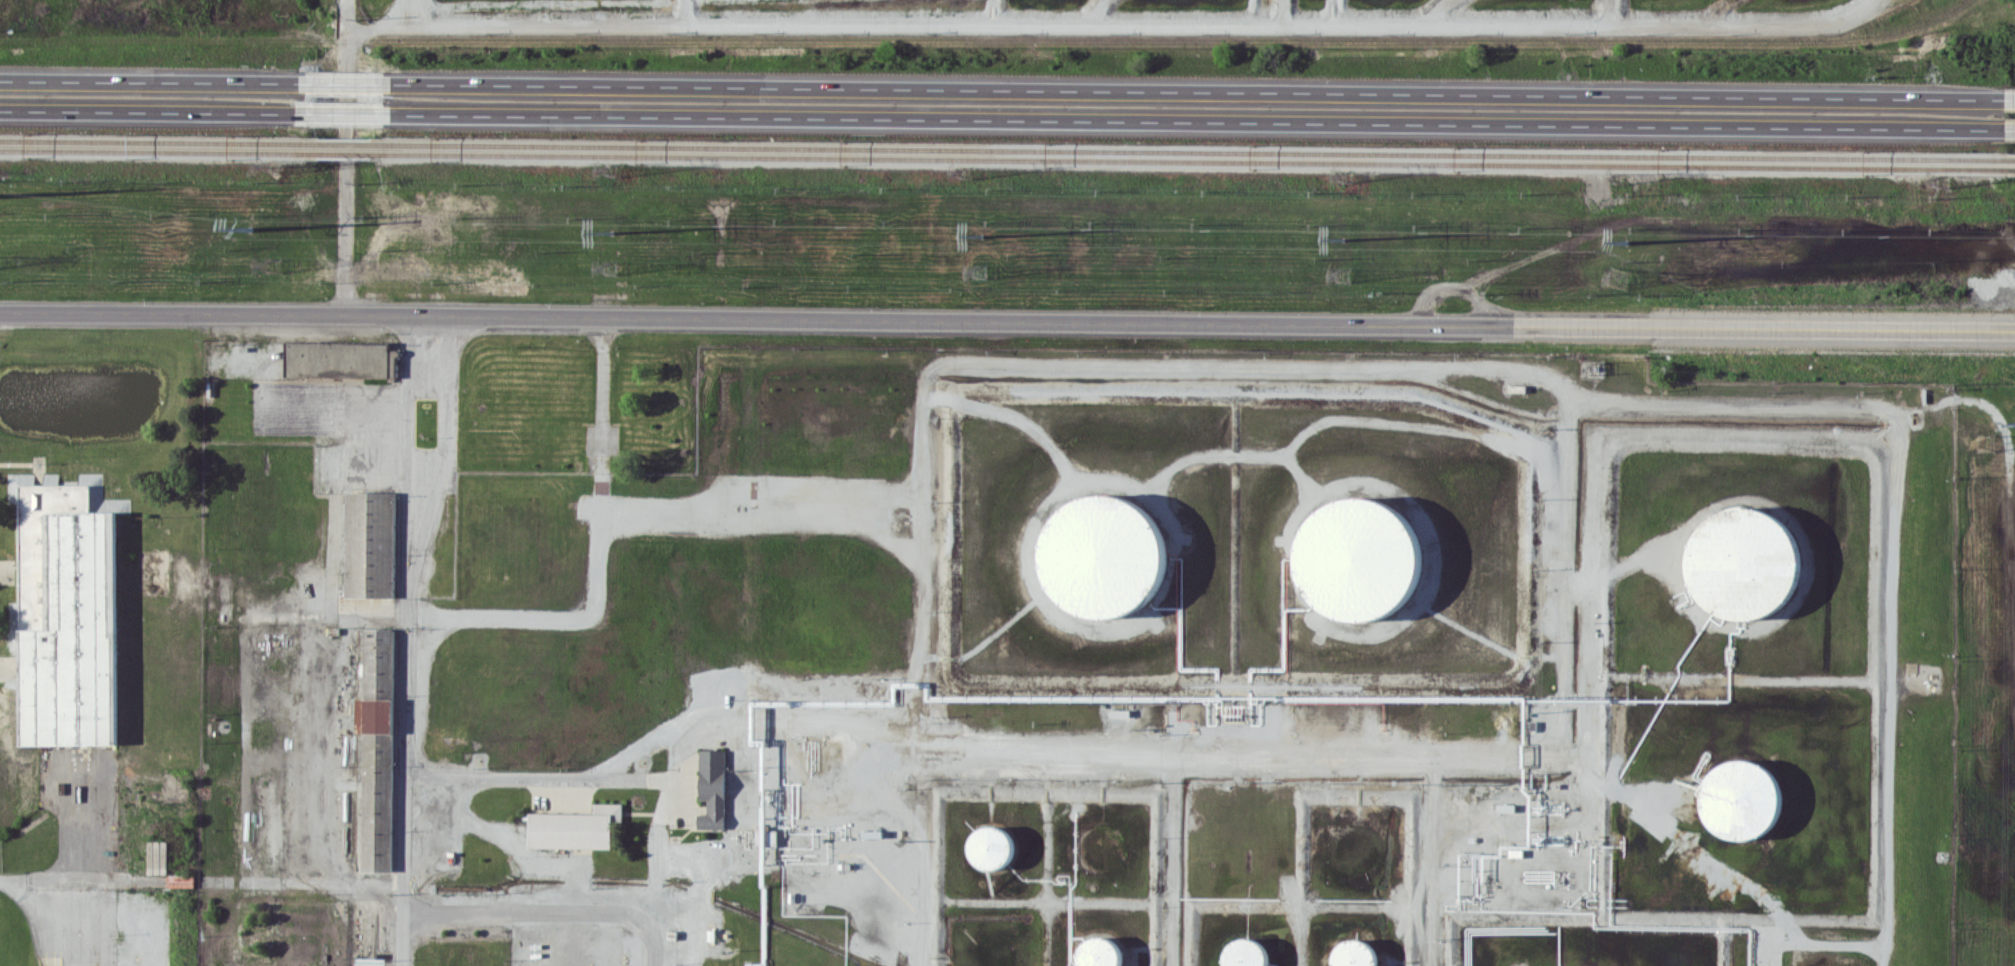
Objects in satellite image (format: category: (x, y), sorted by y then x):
road: (1250, 9)
road: (1003, 10)
road: (688, 11)
road: (1343, 11)
road: (406, 12)
road: (1602, 13)
road: (1126, 20)
road: (1297, 20)
road: (674, 23)
road: (1473, 24)
road: (1736, 25)
road: (151, 80)
road: (344, 82)
road: (346, 85)
road: (1195, 90)
road: (2010, 97)
road: (151, 110)
road: (343, 112)
road: (1195, 120)
road: (2010, 128)
railway: (157, 143)
railway: (347, 145)
railway: (158, 152)
railway: (350, 154)
railway: (1193, 156)
railway: (1195, 166)
railway: (2010, 167)
railway: (2011, 176)
power tower: (610, 230)
power tower: (250, 231)
power tower: (980, 234)
power tower: (1342, 237)
power tower: (1625, 240)
road: (344, 242)
power tower: (273, 267)
power tower: (611, 271)
power tower: (982, 272)
power tower: (1345, 274)
power tower: (1619, 277)
road: (1007, 320)
building: (335, 353)
road: (1547, 381)
building: (424, 424)
power tower: (1985, 439)
road: (767, 511)
road: (896, 540)
building: (368, 542)
building: (1101, 556)
building: (1355, 558)
road: (597, 563)
building: (1738, 563)
road: (1623, 566)
building: (13, 616)
building: (67, 617)
road: (864, 734)
road: (1304, 747)
building: (373, 750)
road: (731, 751)
road: (1618, 784)
building: (711, 787)
building: (1737, 797)
road: (403, 799)
building: (573, 826)
building: (988, 845)
building: (1098, 845)
road: (655, 848)
road: (1171, 856)
road: (1432, 857)
road: (507, 906)
road: (403, 924)
road: (586, 932)
building: (1096, 951)
building: (1243, 951)
building: (1351, 952)

